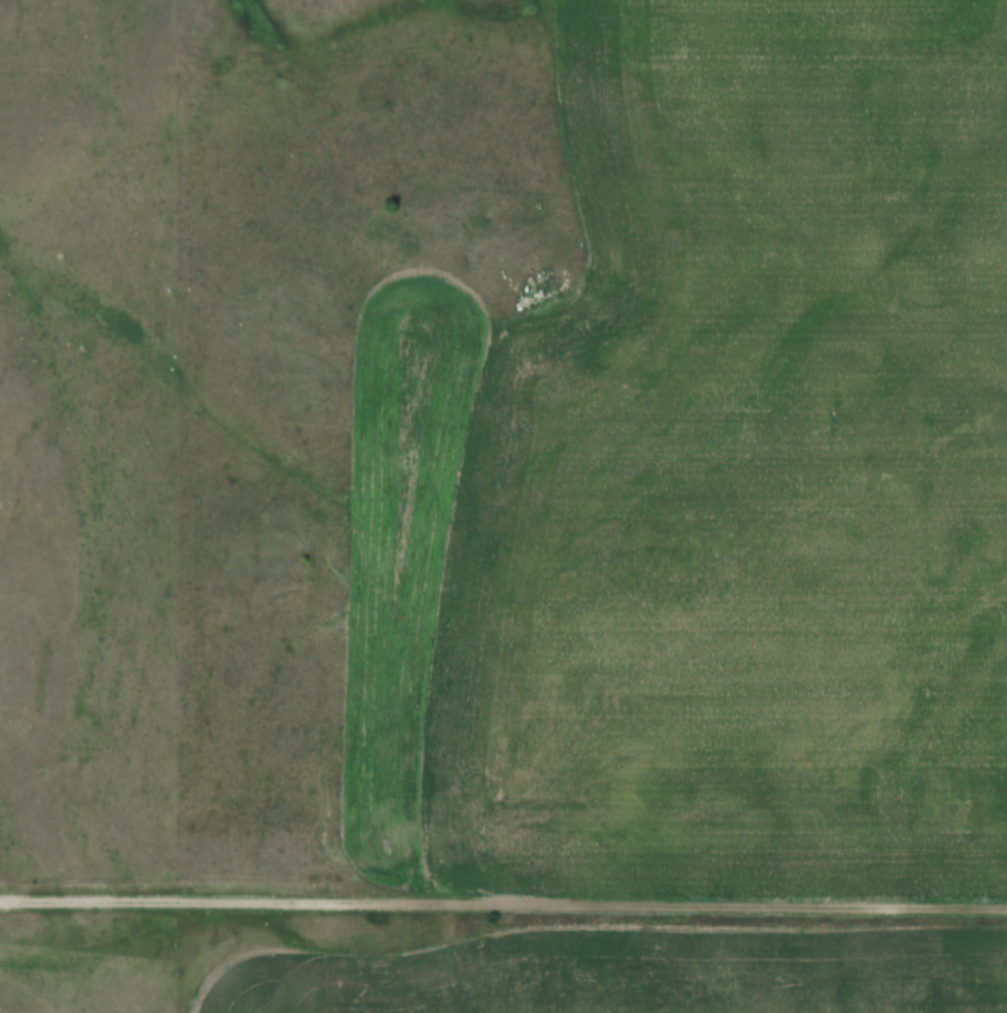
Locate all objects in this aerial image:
road: (503, 906)

